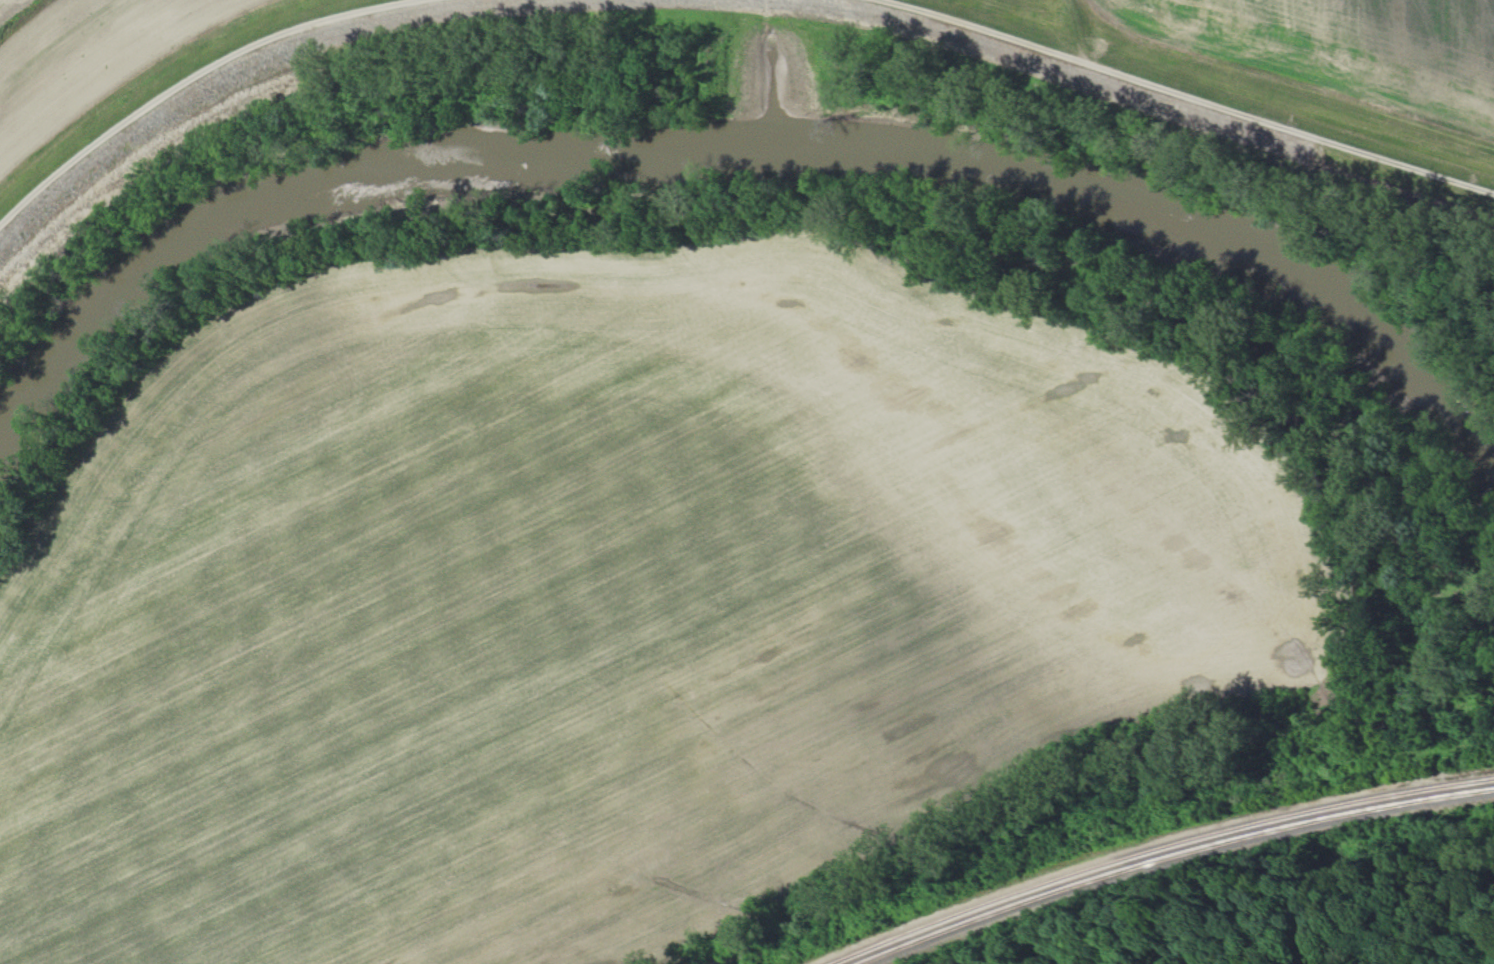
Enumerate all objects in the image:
crop: (1068, 3)
crop: (12, 9)
crop: (1344, 45)
crop: (85, 60)
road: (238, 67)
road: (1156, 91)
river: (746, 148)
road: (151, 410)
road: (45, 531)
crop: (619, 605)
railway: (1159, 843)
railway: (1171, 849)

